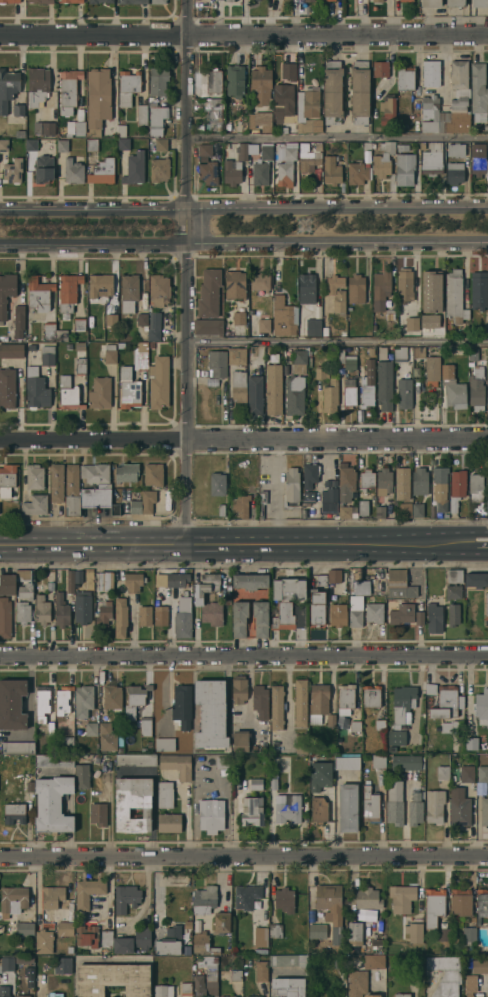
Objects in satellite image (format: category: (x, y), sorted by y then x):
building: (224, 0)
building: (257, 0)
building: (327, 0)
building: (9, 1)
building: (41, 1)
building: (71, 1)
building: (100, 1)
building: (133, 1)
building: (229, 1)
building: (309, 1)
building: (377, 1)
building: (406, 1)
building: (158, 2)
building: (430, 3)
building: (455, 3)
building: (479, 3)
road: (244, 37)
road: (332, 52)
building: (380, 69)
road: (445, 70)
building: (288, 71)
road: (345, 73)
building: (431, 74)
building: (405, 78)
building: (158, 81)
building: (235, 81)
building: (210, 84)
building: (260, 86)
building: (37, 87)
building: (128, 87)
building: (7, 88)
building: (68, 91)
building: (332, 92)
building: (360, 92)
building: (478, 93)
building: (458, 99)
building: (97, 100)
building: (283, 101)
building: (307, 109)
building: (18, 110)
building: (388, 110)
building: (80, 114)
building: (142, 115)
building: (214, 115)
building: (432, 116)
building: (156, 117)
building: (263, 121)
building: (44, 128)
building: (75, 128)
building: (122, 130)
building: (20, 133)
road: (337, 139)
building: (123, 144)
building: (4, 145)
building: (31, 145)
building: (92, 145)
building: (161, 145)
building: (62, 146)
building: (455, 149)
building: (204, 150)
building: (243, 151)
building: (309, 157)
building: (431, 159)
building: (478, 160)
building: (383, 161)
building: (286, 165)
building: (262, 166)
building: (43, 169)
building: (405, 169)
building: (134, 170)
building: (159, 170)
building: (331, 170)
building: (13, 171)
building: (73, 171)
building: (103, 172)
building: (232, 172)
building: (208, 173)
building: (358, 173)
building: (455, 173)
road: (243, 208)
power tower: (304, 225)
road: (244, 245)
road: (187, 272)
building: (334, 284)
building: (100, 285)
building: (235, 285)
building: (430, 285)
building: (306, 288)
building: (404, 288)
building: (261, 289)
building: (356, 289)
building: (479, 289)
building: (159, 290)
building: (380, 290)
building: (6, 293)
building: (129, 293)
building: (38, 294)
building: (68, 294)
building: (209, 294)
building: (454, 295)
building: (339, 302)
building: (283, 317)
building: (141, 319)
building: (111, 320)
building: (429, 320)
building: (234, 321)
building: (18, 322)
building: (411, 323)
building: (79, 324)
building: (264, 325)
building: (154, 326)
building: (208, 327)
building: (312, 328)
building: (146, 331)
building: (49, 332)
building: (60, 335)
road: (337, 341)
building: (80, 346)
building: (31, 348)
building: (12, 351)
building: (473, 353)
building: (110, 354)
building: (400, 354)
building: (142, 355)
building: (47, 356)
building: (236, 356)
building: (347, 361)
building: (299, 362)
building: (218, 364)
building: (80, 366)
building: (426, 366)
building: (31, 371)
building: (321, 372)
building: (487, 381)
building: (158, 382)
building: (384, 385)
building: (239, 387)
building: (452, 387)
building: (7, 388)
building: (476, 388)
building: (129, 389)
building: (273, 390)
building: (37, 393)
building: (100, 393)
building: (349, 393)
building: (68, 394)
building: (404, 394)
building: (255, 396)
building: (367, 396)
building: (294, 397)
building: (330, 397)
building: (487, 397)
road: (243, 439)
building: (95, 473)
building: (127, 473)
building: (153, 474)
building: (34, 477)
building: (7, 479)
building: (367, 479)
building: (384, 481)
building: (309, 482)
building: (420, 482)
building: (56, 483)
building: (402, 483)
building: (217, 484)
building: (457, 488)
building: (476, 488)
building: (291, 489)
building: (72, 490)
building: (345, 490)
building: (439, 491)
building: (95, 497)
building: (148, 501)
building: (262, 502)
building: (329, 502)
building: (35, 505)
building: (241, 506)
building: (380, 506)
building: (135, 507)
building: (362, 508)
building: (116, 510)
building: (405, 510)
building: (417, 510)
road: (469, 533)
road: (226, 544)
road: (469, 550)
building: (22, 575)
building: (334, 576)
building: (454, 576)
building: (73, 580)
building: (174, 580)
building: (475, 580)
building: (105, 581)
building: (250, 581)
building: (133, 582)
building: (7, 584)
building: (399, 585)
building: (25, 592)
building: (453, 592)
building: (198, 600)
building: (286, 601)
building: (83, 607)
building: (317, 607)
building: (486, 608)
building: (42, 610)
building: (61, 611)
building: (22, 612)
building: (104, 614)
building: (402, 614)
building: (338, 615)
building: (374, 615)
building: (453, 615)
building: (144, 616)
building: (160, 616)
building: (418, 617)
building: (5, 618)
building: (120, 618)
building: (182, 618)
building: (239, 618)
building: (434, 618)
building: (261, 619)
building: (355, 619)
building: (473, 626)
road: (244, 656)
building: (239, 689)
building: (430, 689)
building: (371, 697)
building: (112, 698)
building: (345, 699)
building: (62, 700)
building: (135, 700)
building: (83, 701)
building: (260, 701)
building: (42, 703)
building: (300, 703)
building: (447, 703)
building: (12, 704)
building: (403, 704)
building: (321, 706)
building: (182, 707)
building: (276, 707)
building: (482, 707)
building: (210, 714)
building: (145, 727)
building: (451, 727)
building: (91, 729)
building: (107, 738)
building: (396, 738)
building: (65, 741)
building: (240, 741)
building: (164, 744)
building: (301, 744)
building: (471, 744)
building: (16, 748)
building: (54, 760)
building: (135, 760)
building: (378, 761)
building: (347, 762)
building: (406, 763)
building: (177, 765)
building: (443, 773)
building: (467, 774)
building: (482, 774)
building: (81, 776)
building: (320, 776)
building: (165, 795)
road: (211, 795)
building: (252, 801)
building: (132, 804)
building: (394, 804)
building: (52, 805)
building: (370, 805)
building: (434, 806)
building: (287, 808)
building: (348, 808)
building: (459, 808)
building: (318, 810)
building: (415, 810)
building: (484, 812)
building: (14, 813)
building: (98, 814)
building: (210, 816)
building: (169, 823)
road: (227, 847)
road: (195, 848)
road: (243, 856)
building: (180, 880)
building: (87, 892)
building: (51, 897)
building: (126, 898)
building: (248, 898)
building: (402, 898)
building: (204, 900)
building: (285, 900)
building: (12, 901)
building: (369, 901)
building: (461, 902)
building: (482, 903)
building: (62, 904)
building: (434, 907)
building: (327, 909)
building: (222, 923)
building: (25, 929)
building: (65, 929)
building: (275, 931)
building: (170, 933)
building: (415, 933)
building: (444, 933)
building: (336, 935)
building: (86, 936)
building: (259, 936)
building: (469, 936)
building: (360, 937)
building: (106, 938)
building: (143, 938)
building: (43, 942)
building: (203, 945)
building: (123, 946)
building: (171, 948)
building: (24, 959)
building: (288, 961)
building: (339, 962)
building: (376, 962)
building: (443, 963)
building: (7, 964)
building: (62, 966)
building: (480, 967)
building: (261, 972)
building: (414, 973)
building: (236, 975)
building: (113, 979)
building: (211, 979)
building: (30, 981)
building: (356, 983)
building: (447, 984)
building: (469, 985)
building: (199, 986)
building: (287, 987)
building: (186, 989)
building: (4, 991)
building: (163, 991)
building: (54, 995)
building: (402, 995)
building: (22, 996)
building: (226, 996)
building: (253, 996)
building: (313, 996)
building: (371, 996)

